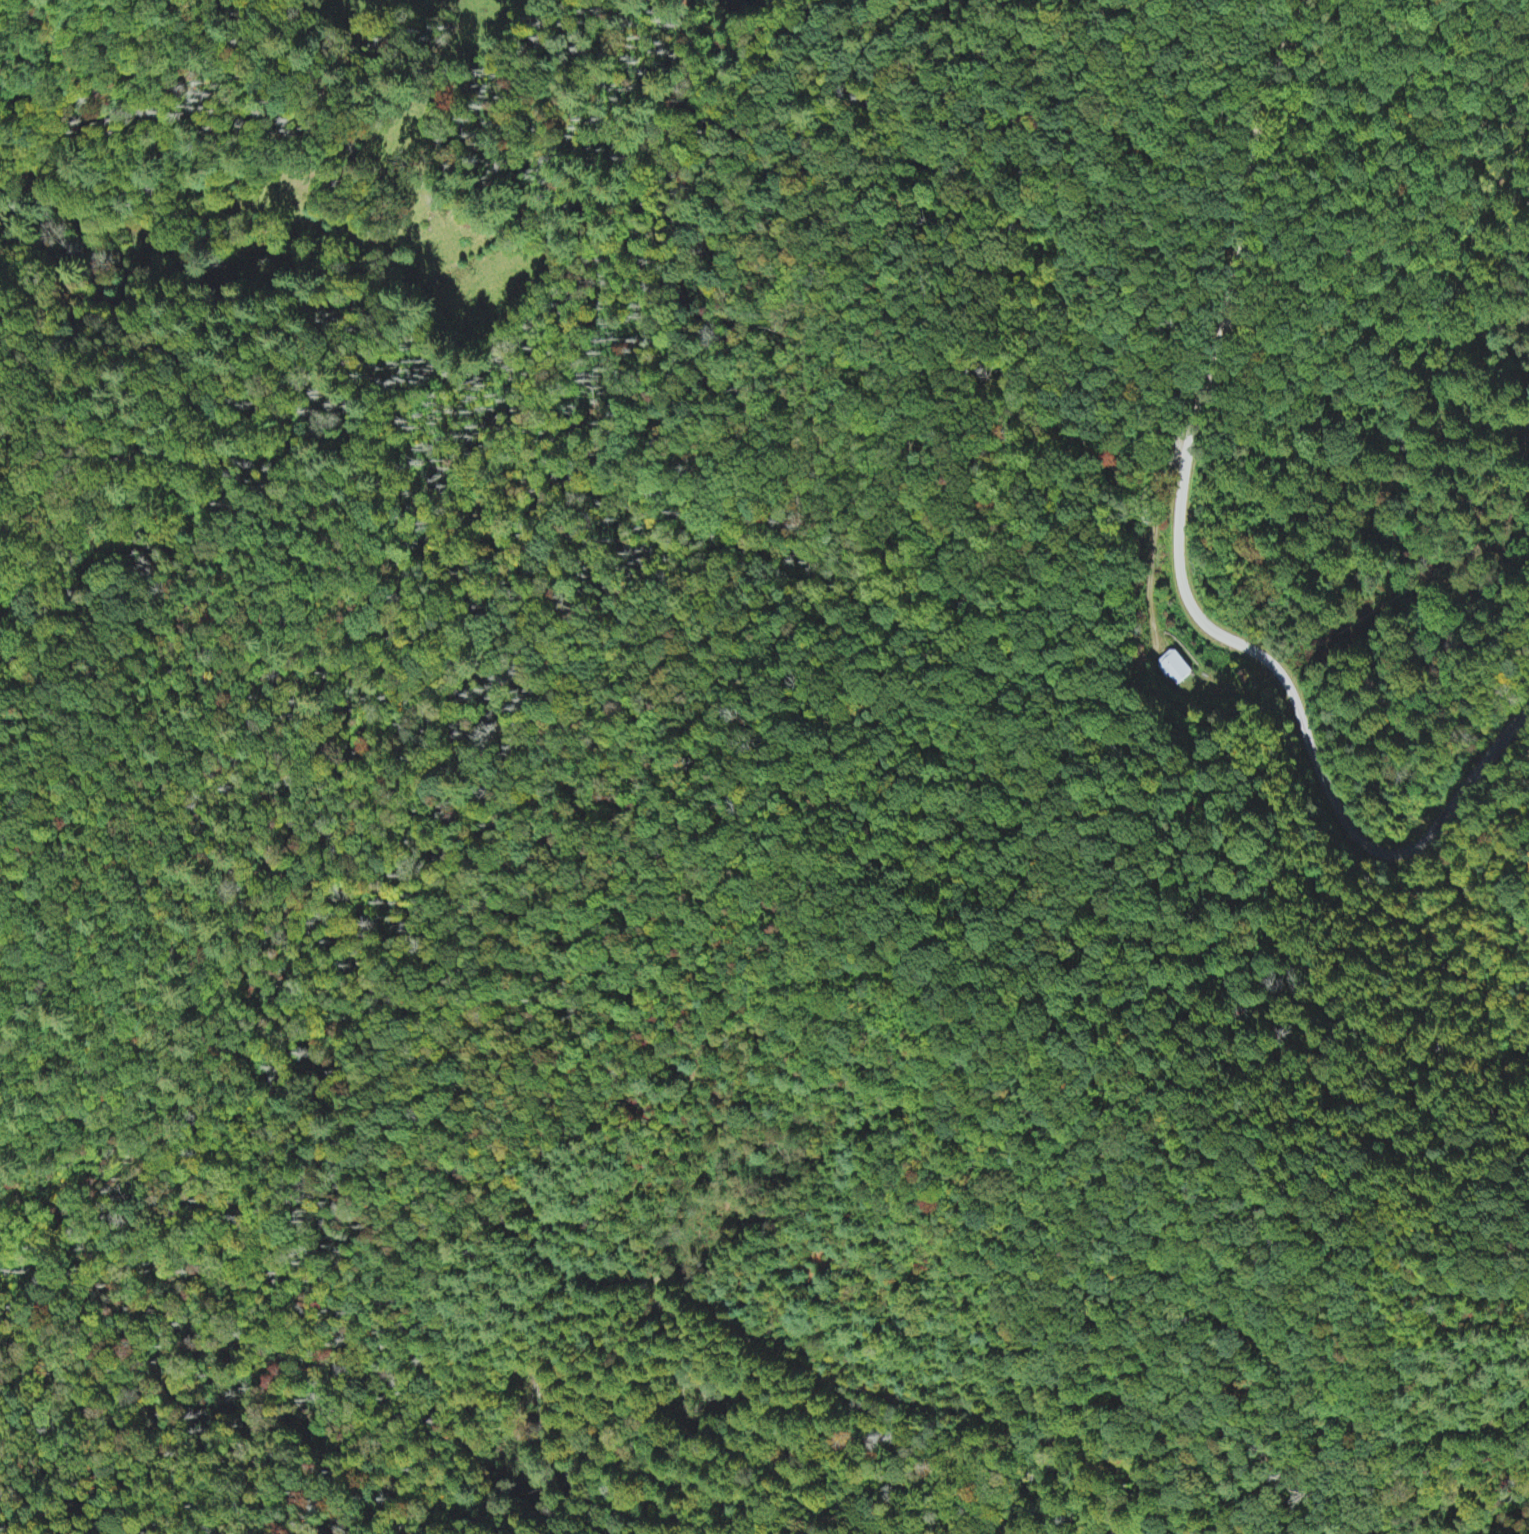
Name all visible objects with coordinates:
road: (1225, 226)
building: (1176, 669)
road: (1299, 744)

